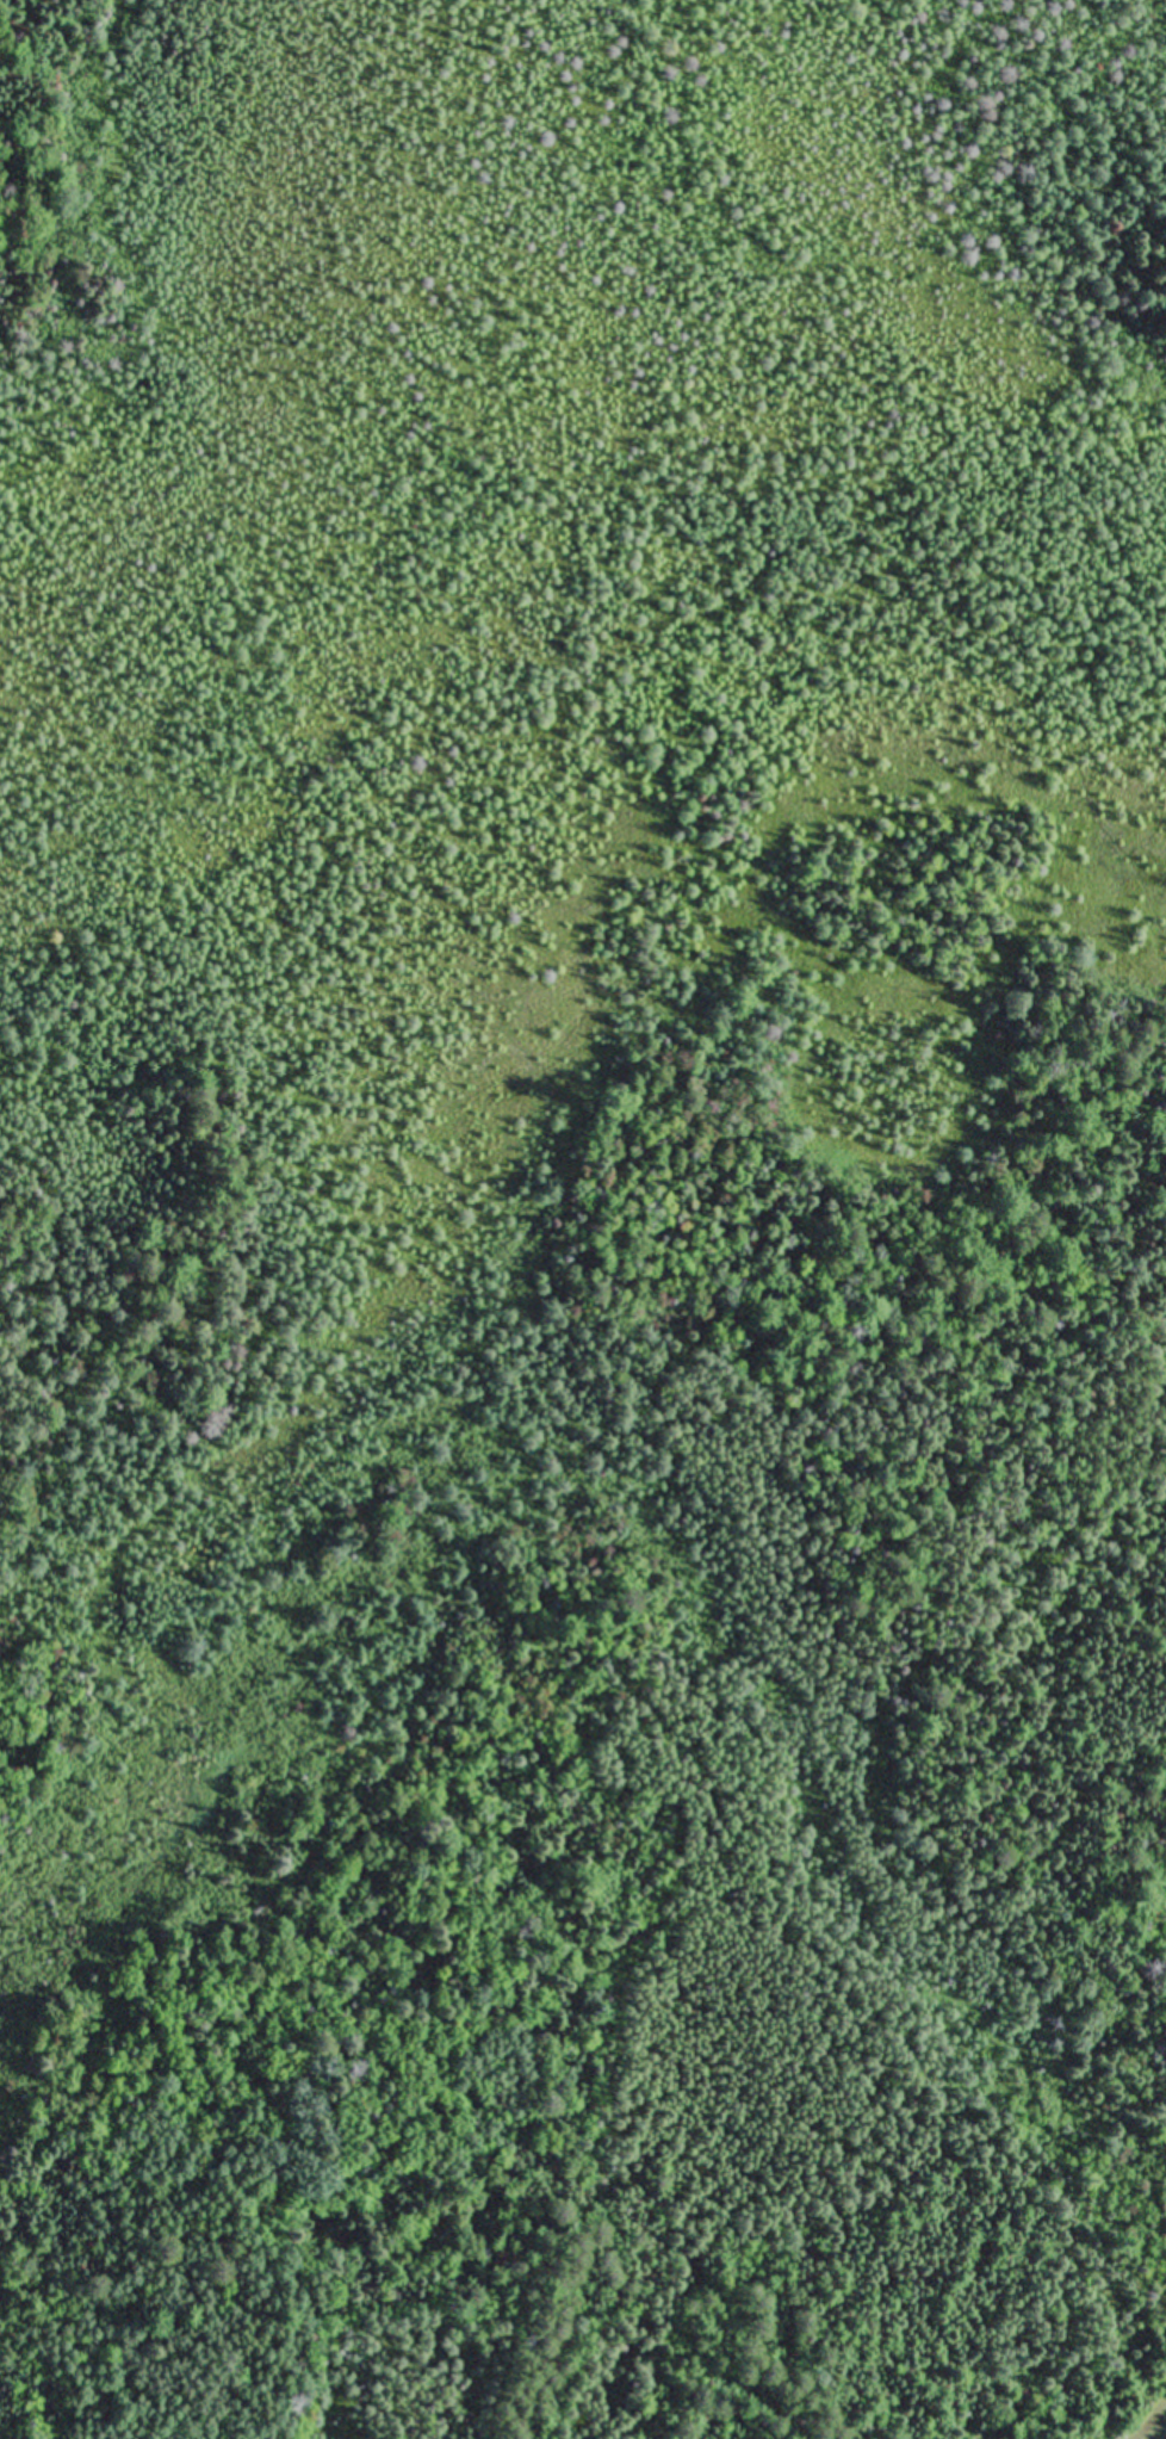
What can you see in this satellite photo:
park: (1125, 2370)

